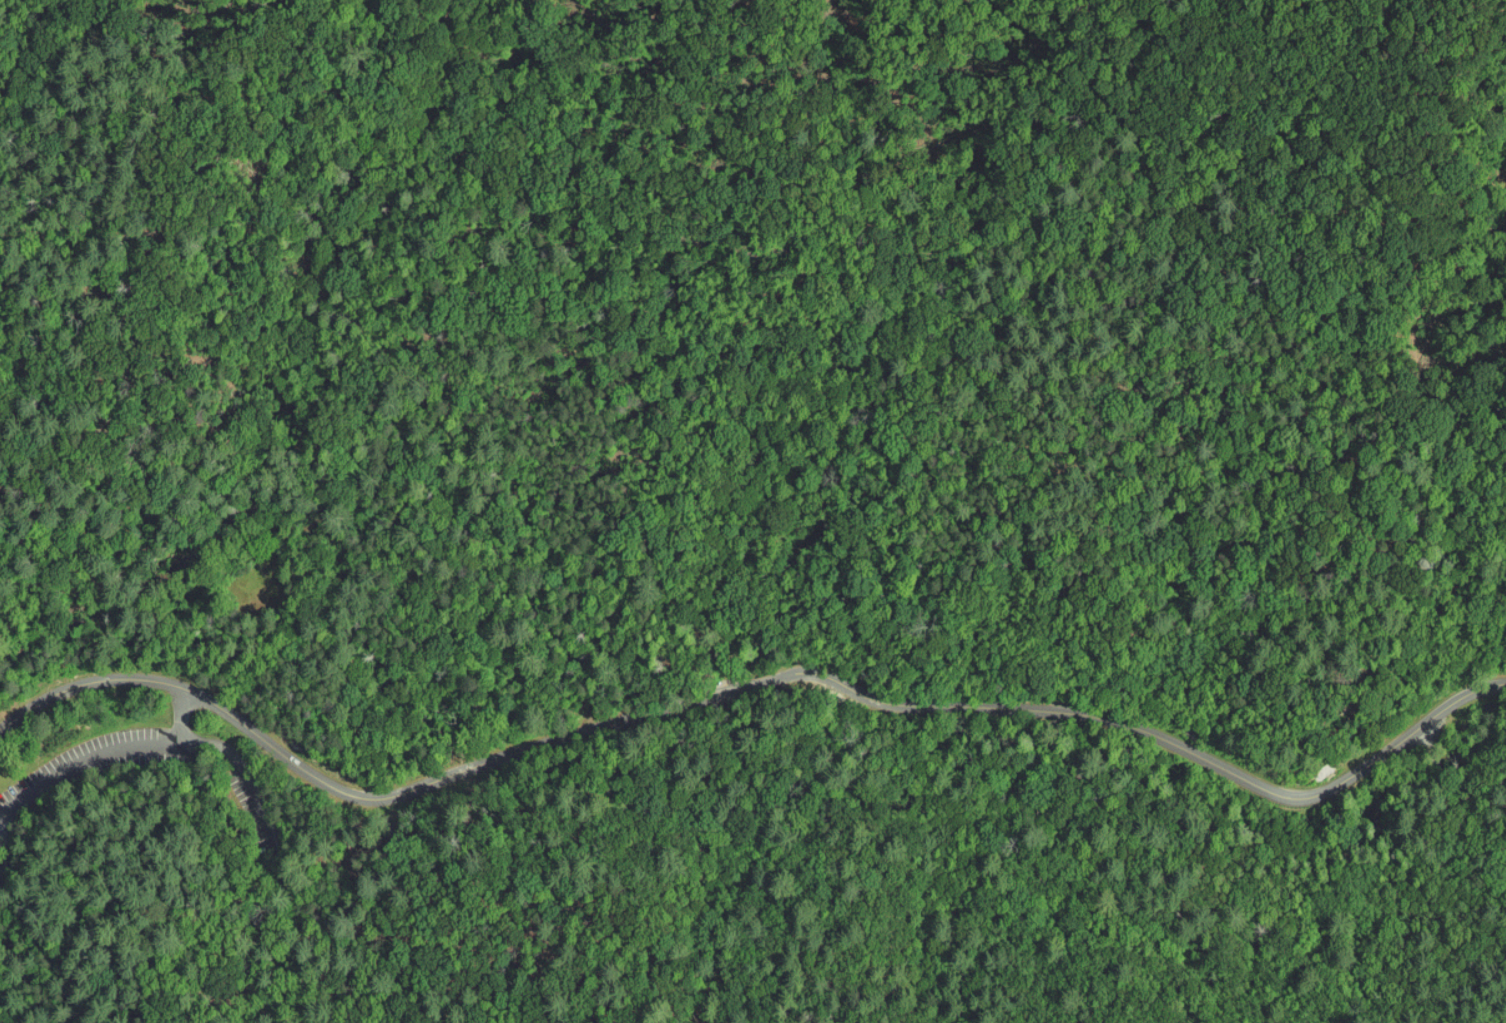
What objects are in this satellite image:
road: (768, 678)
road: (1468, 690)
road: (184, 715)
road: (1124, 720)
road: (82, 759)
road: (252, 783)
road: (363, 795)
parking lot: (19, 805)
road: (307, 949)
road: (19, 964)

